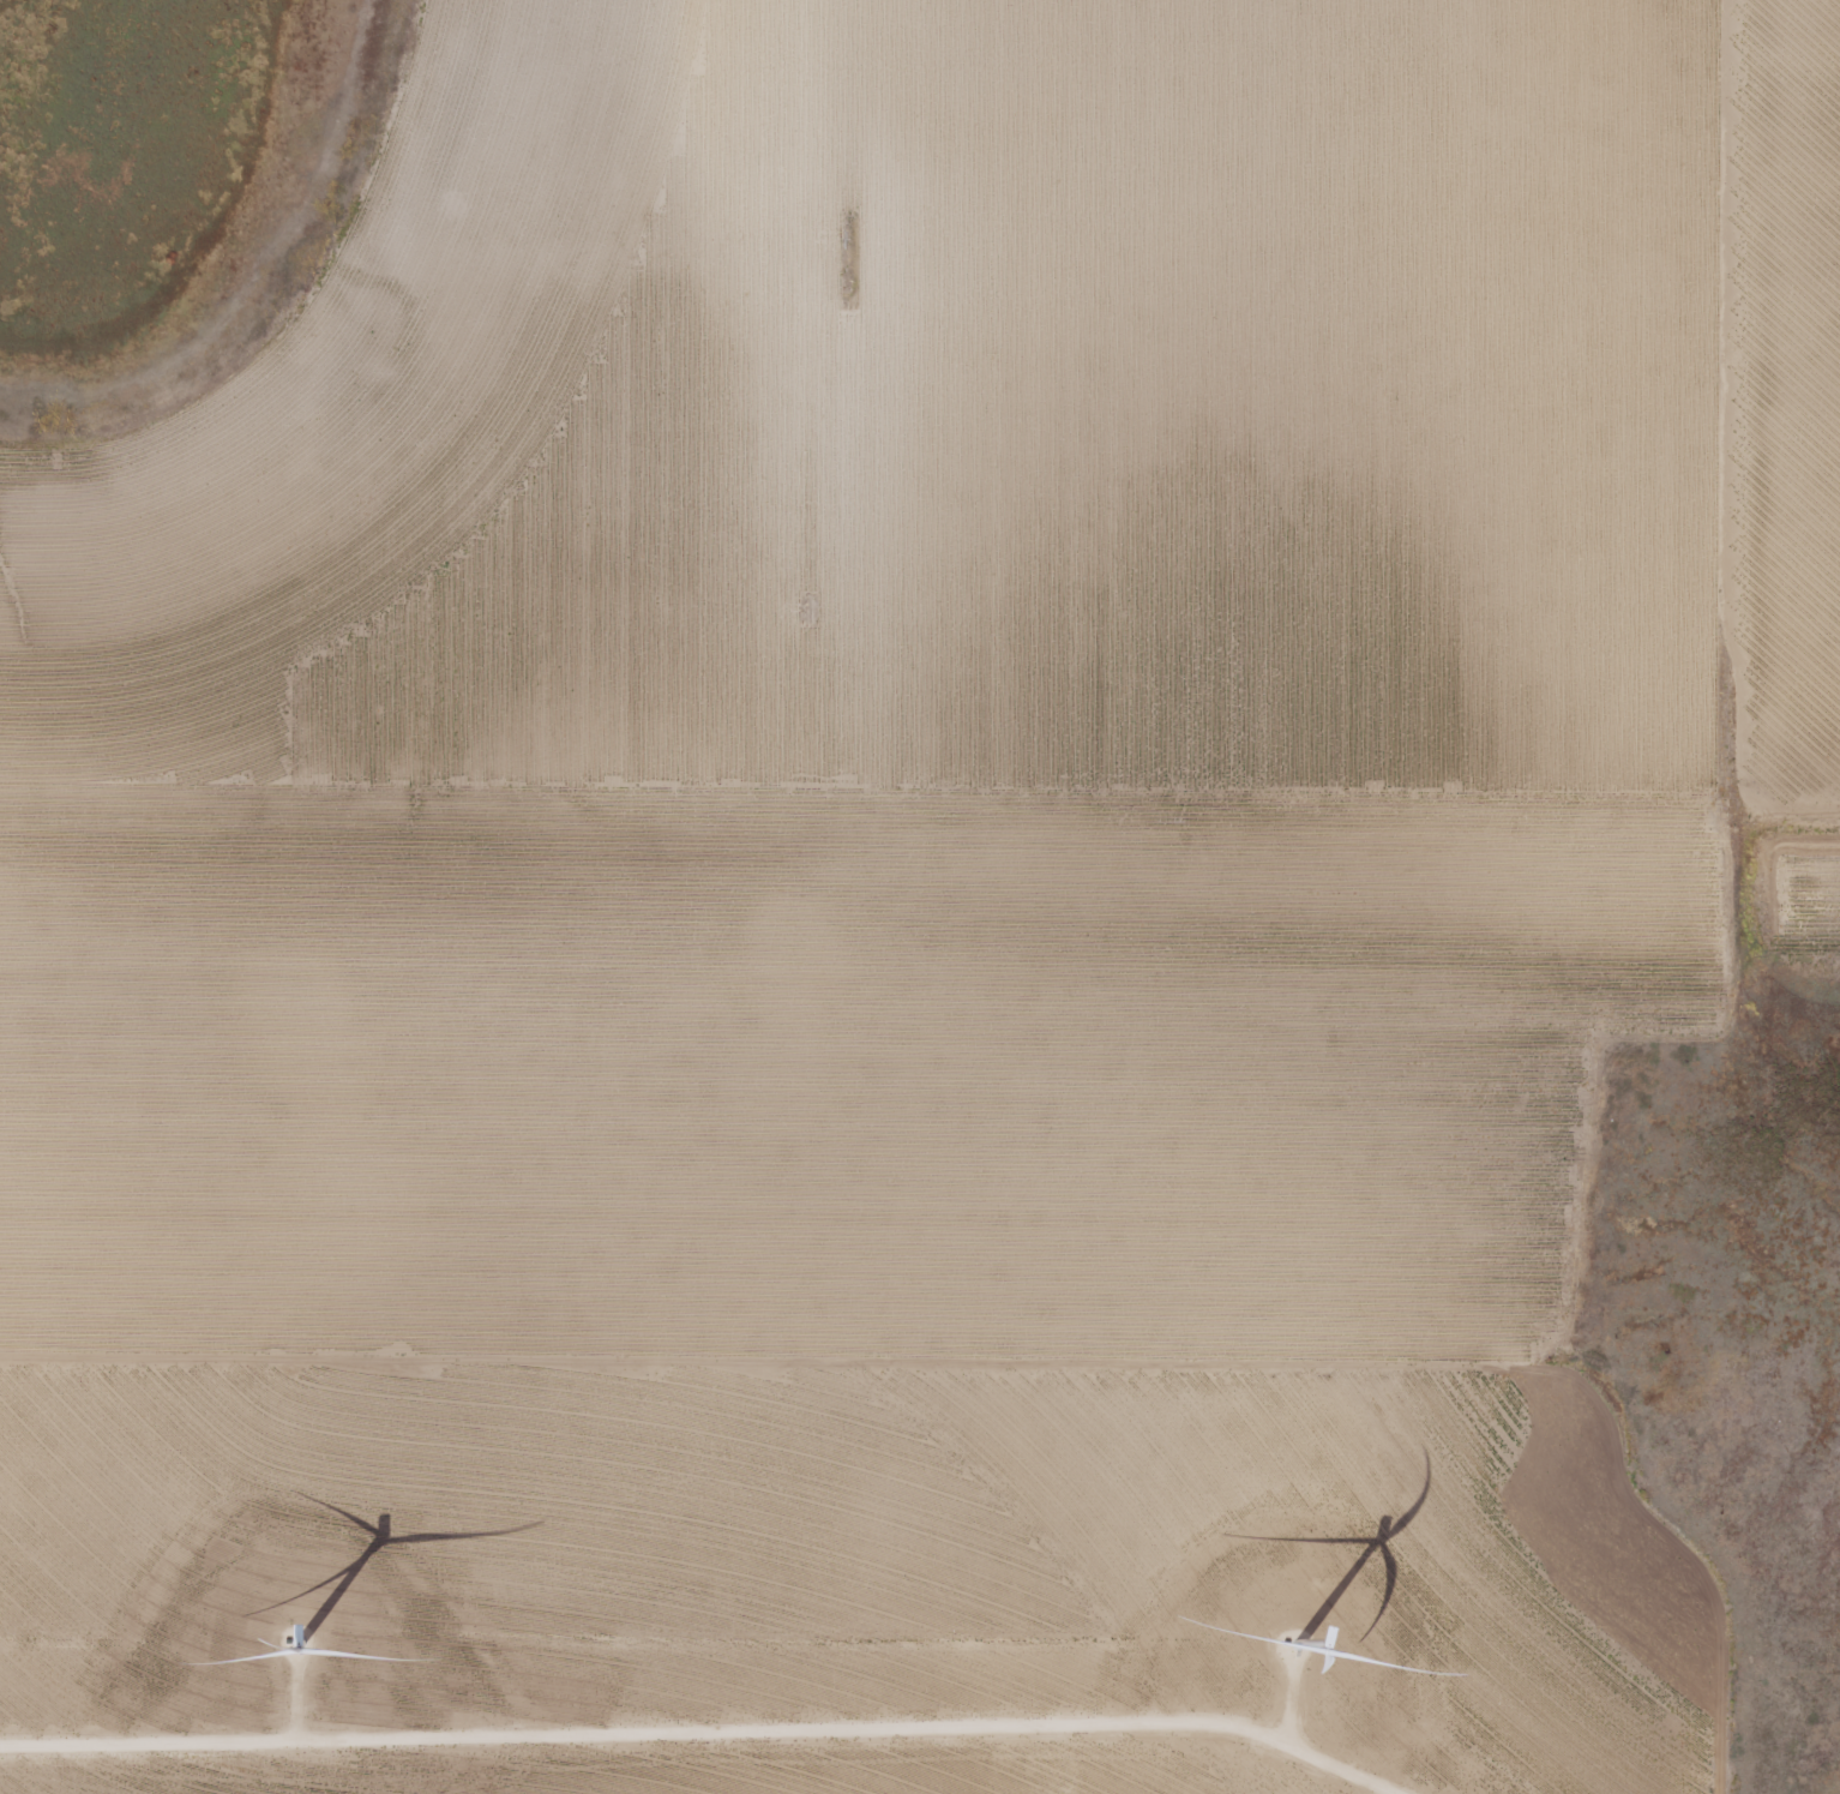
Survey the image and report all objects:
wind turbine: (333, 1645)
wind turbine: (1288, 1655)

